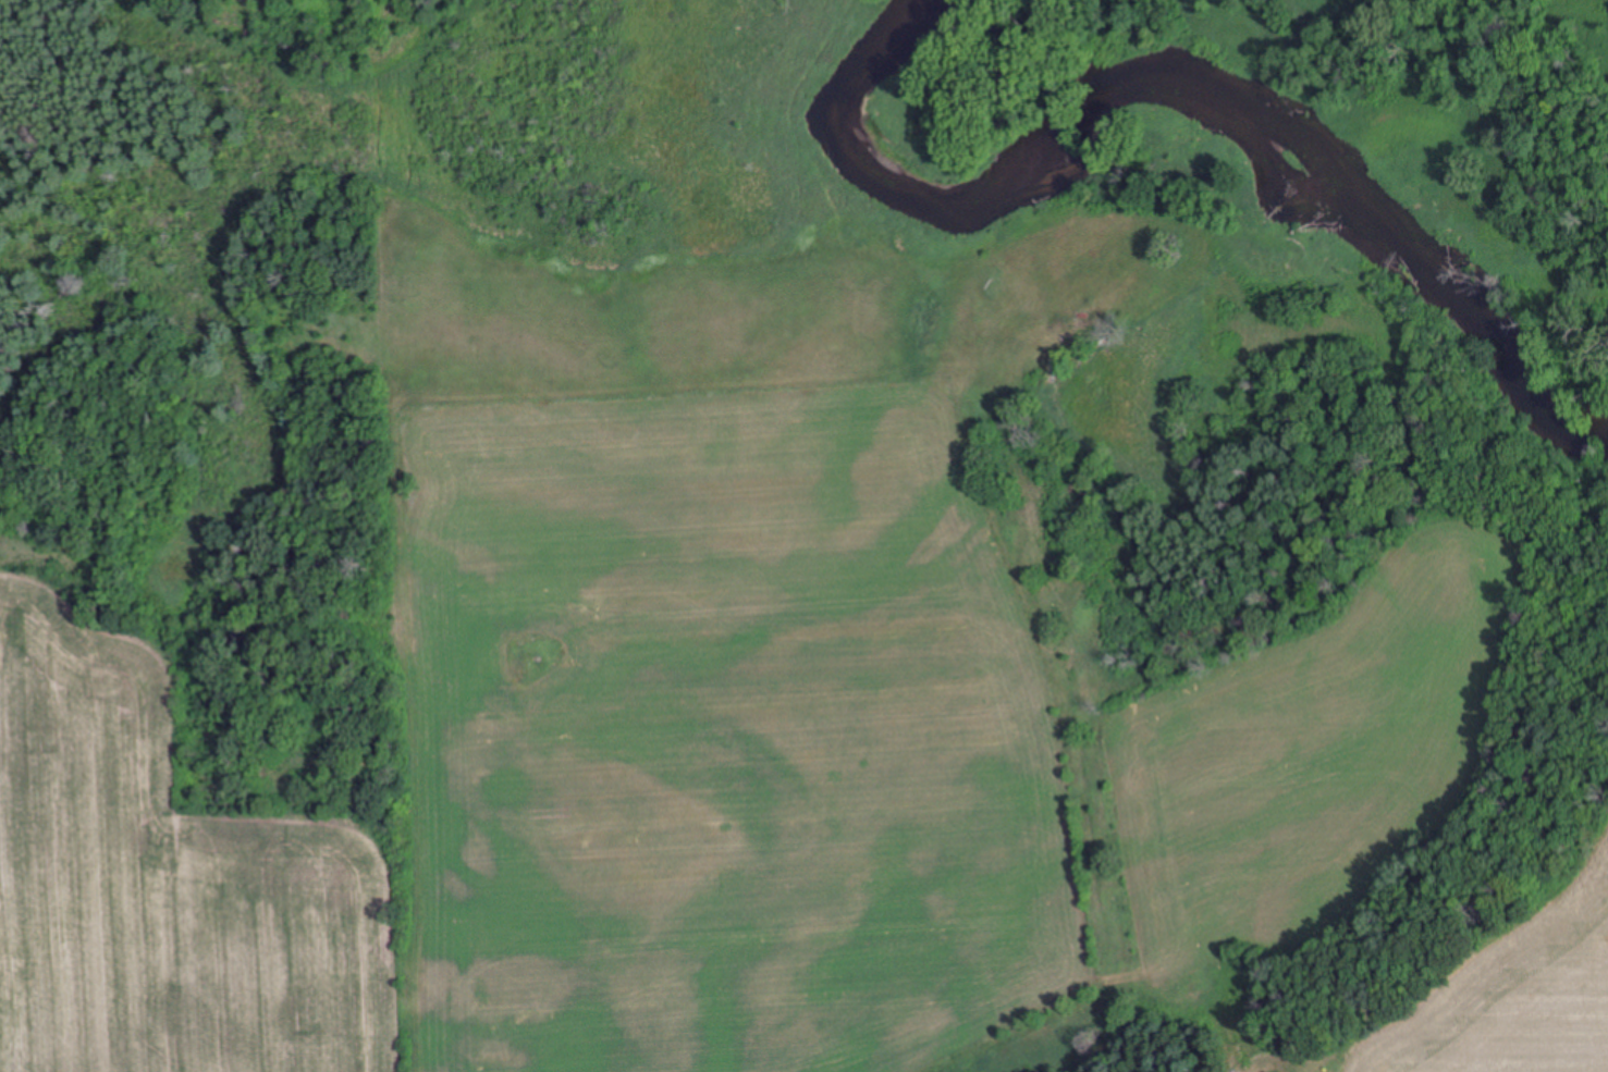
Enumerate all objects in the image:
river: (1211, 110)

